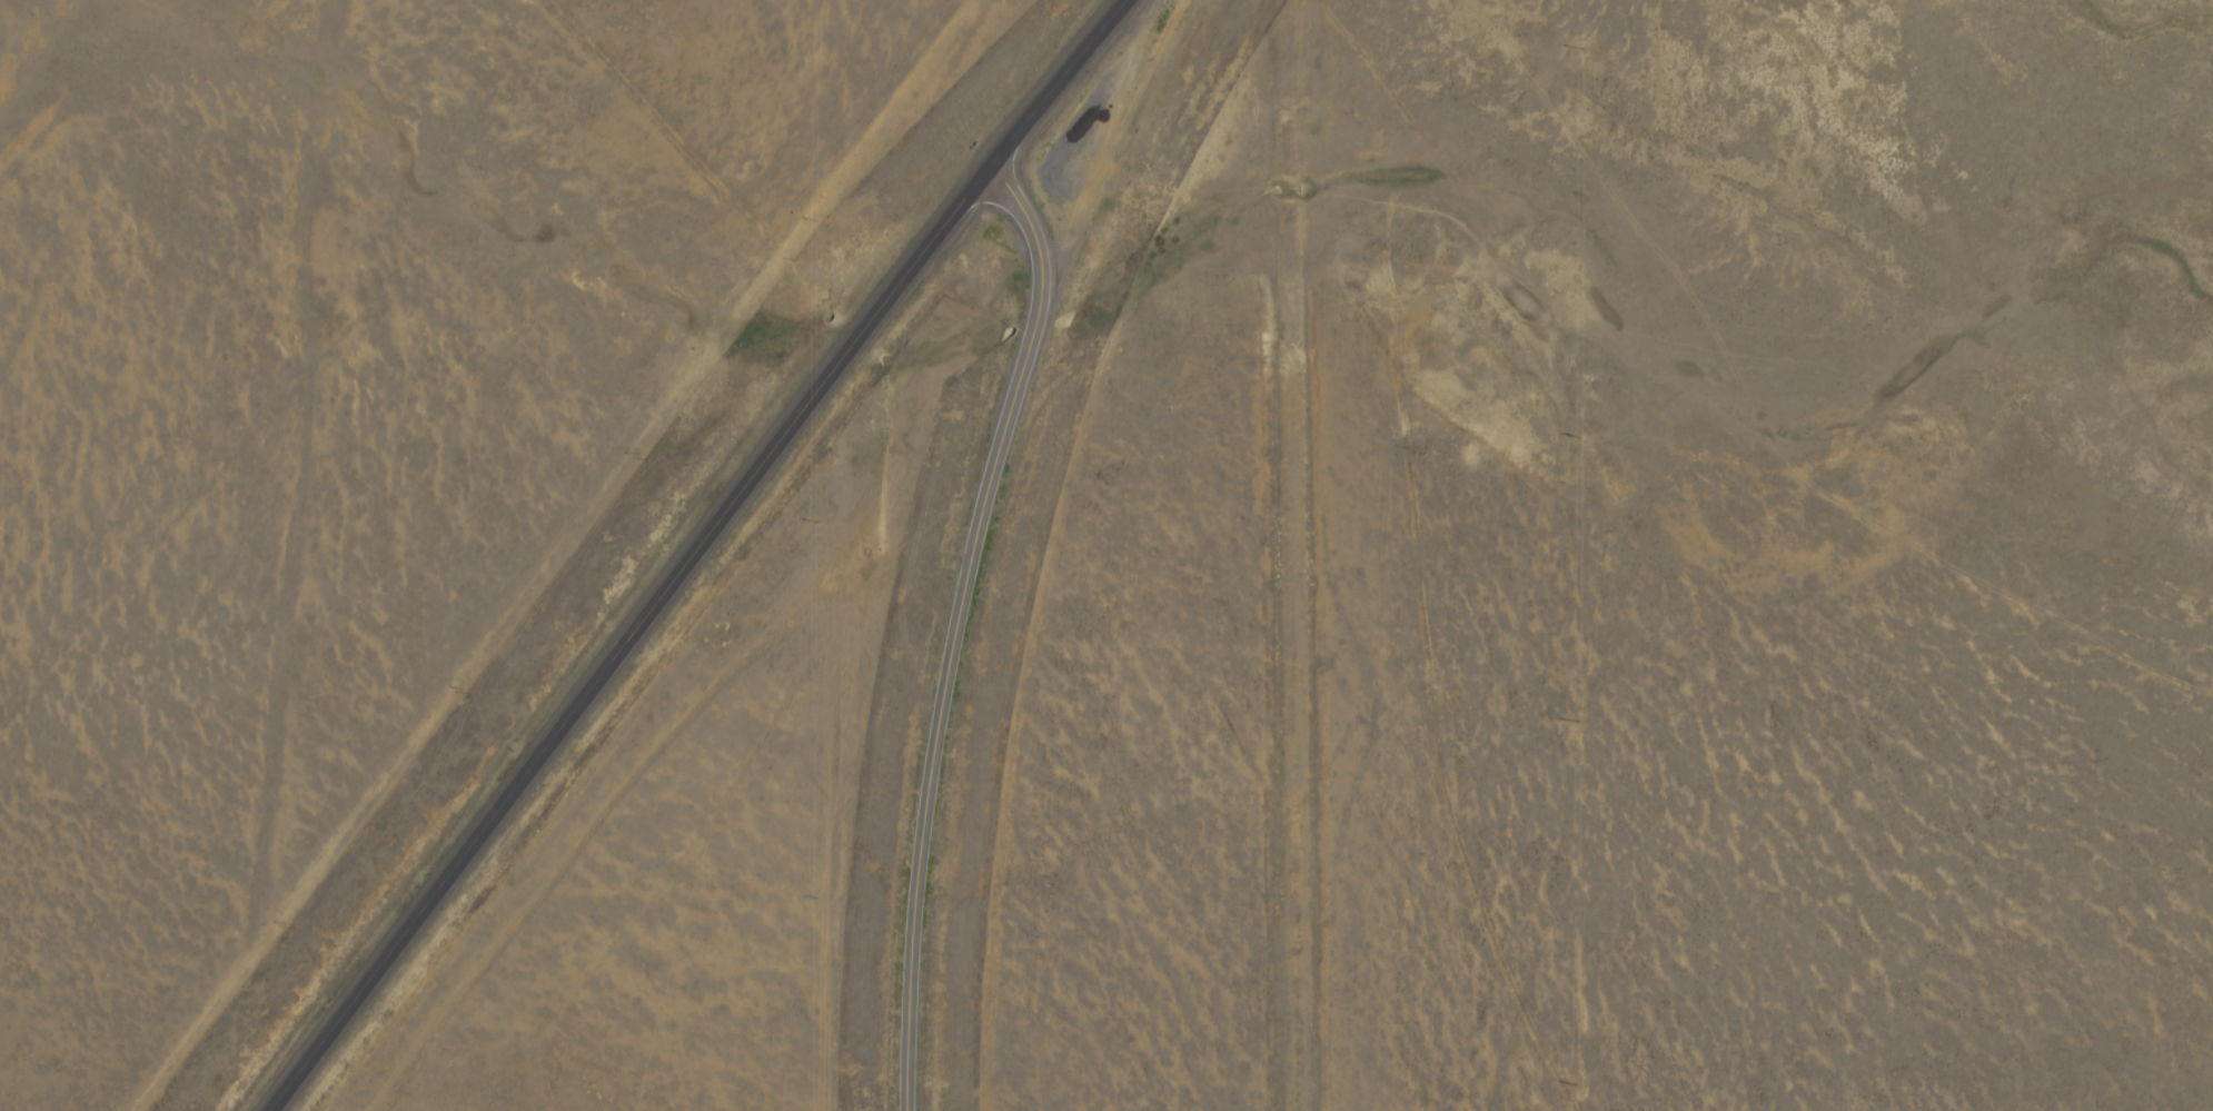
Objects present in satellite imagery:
road: (18, 22)
road: (693, 552)
road: (1352, 555)
road: (954, 627)

